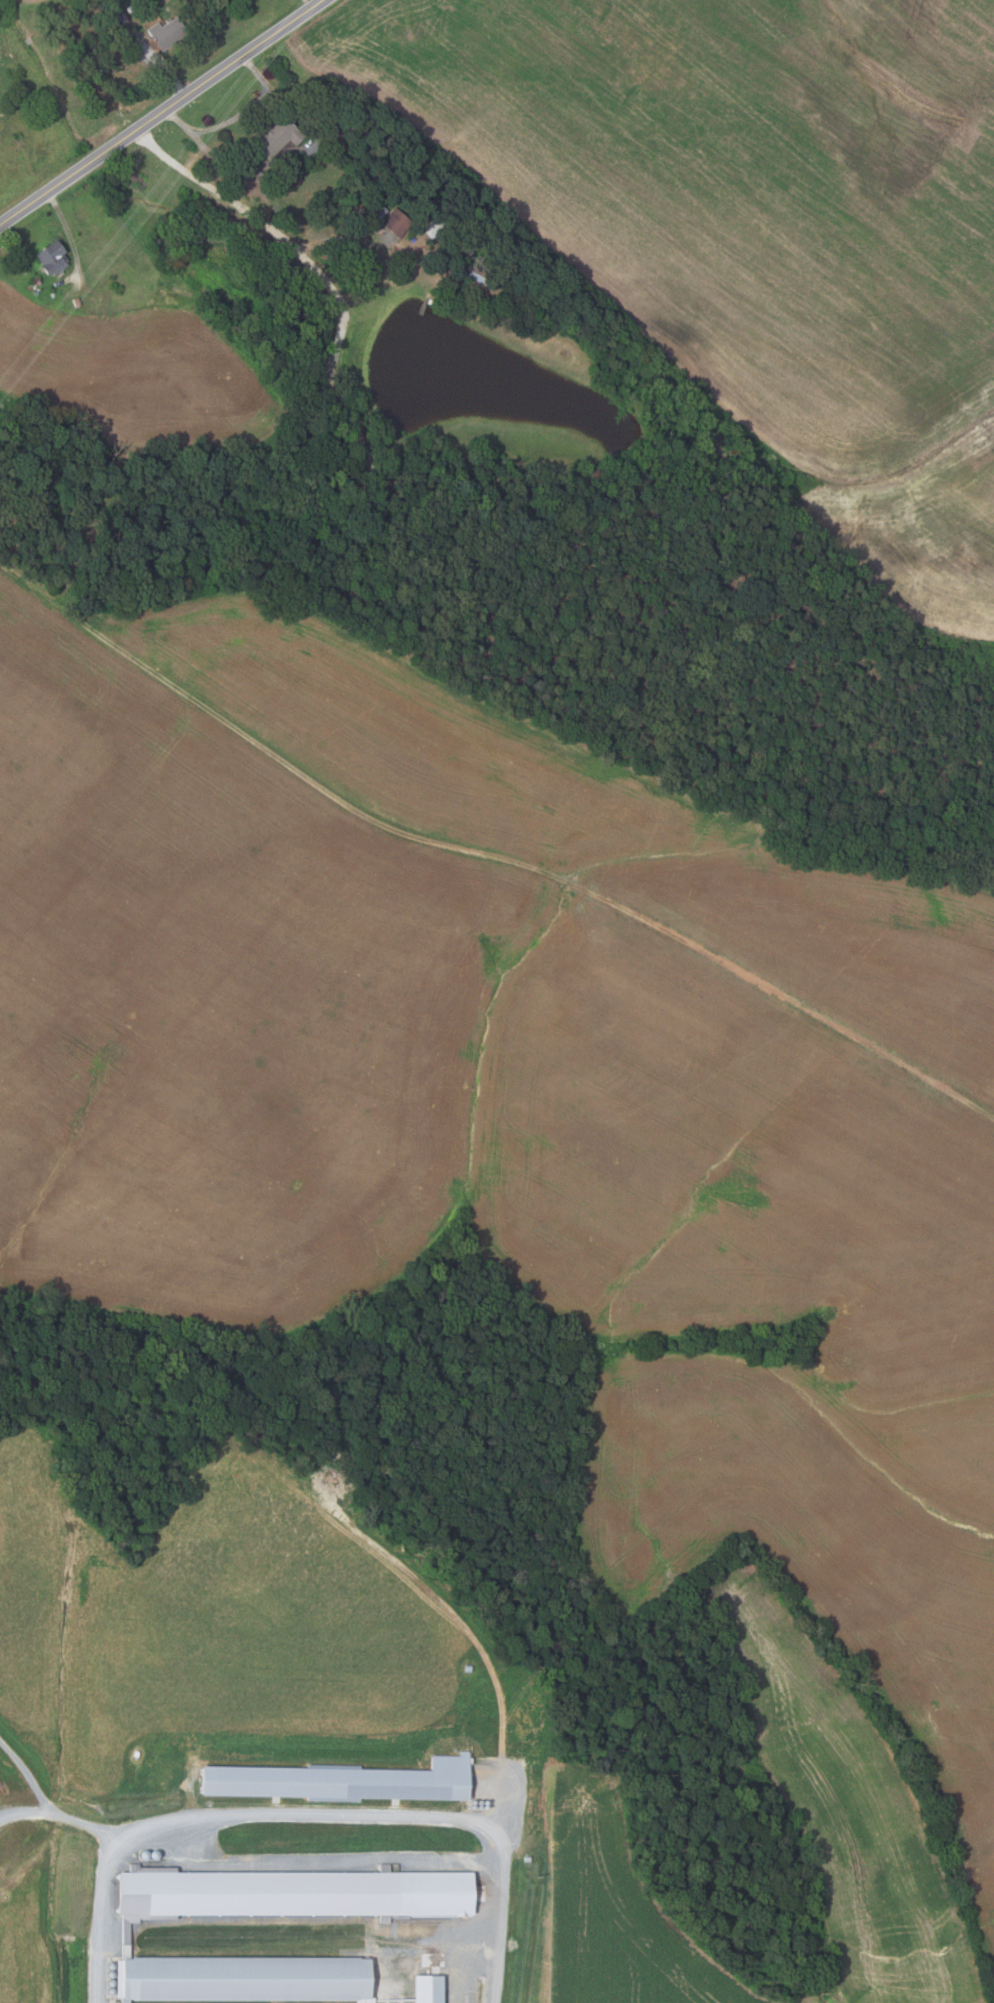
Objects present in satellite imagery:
crop: (15, 2)
road: (308, 3)
building: (133, 8)
building: (123, 16)
building: (111, 22)
building: (169, 33)
road: (157, 64)
road: (159, 111)
road: (235, 116)
building: (279, 136)
building: (383, 211)
building: (398, 222)
building: (435, 227)
crop: (754, 228)
road: (69, 233)
building: (54, 257)
building: (481, 275)
building: (37, 281)
crop: (138, 375)
road: (493, 830)
crop: (518, 1099)
road: (28, 1774)
building: (345, 1778)
crop: (856, 1802)
road: (22, 1814)
road: (314, 1814)
road: (86, 1822)
building: (299, 1891)
building: (249, 1975)
building: (432, 1988)

